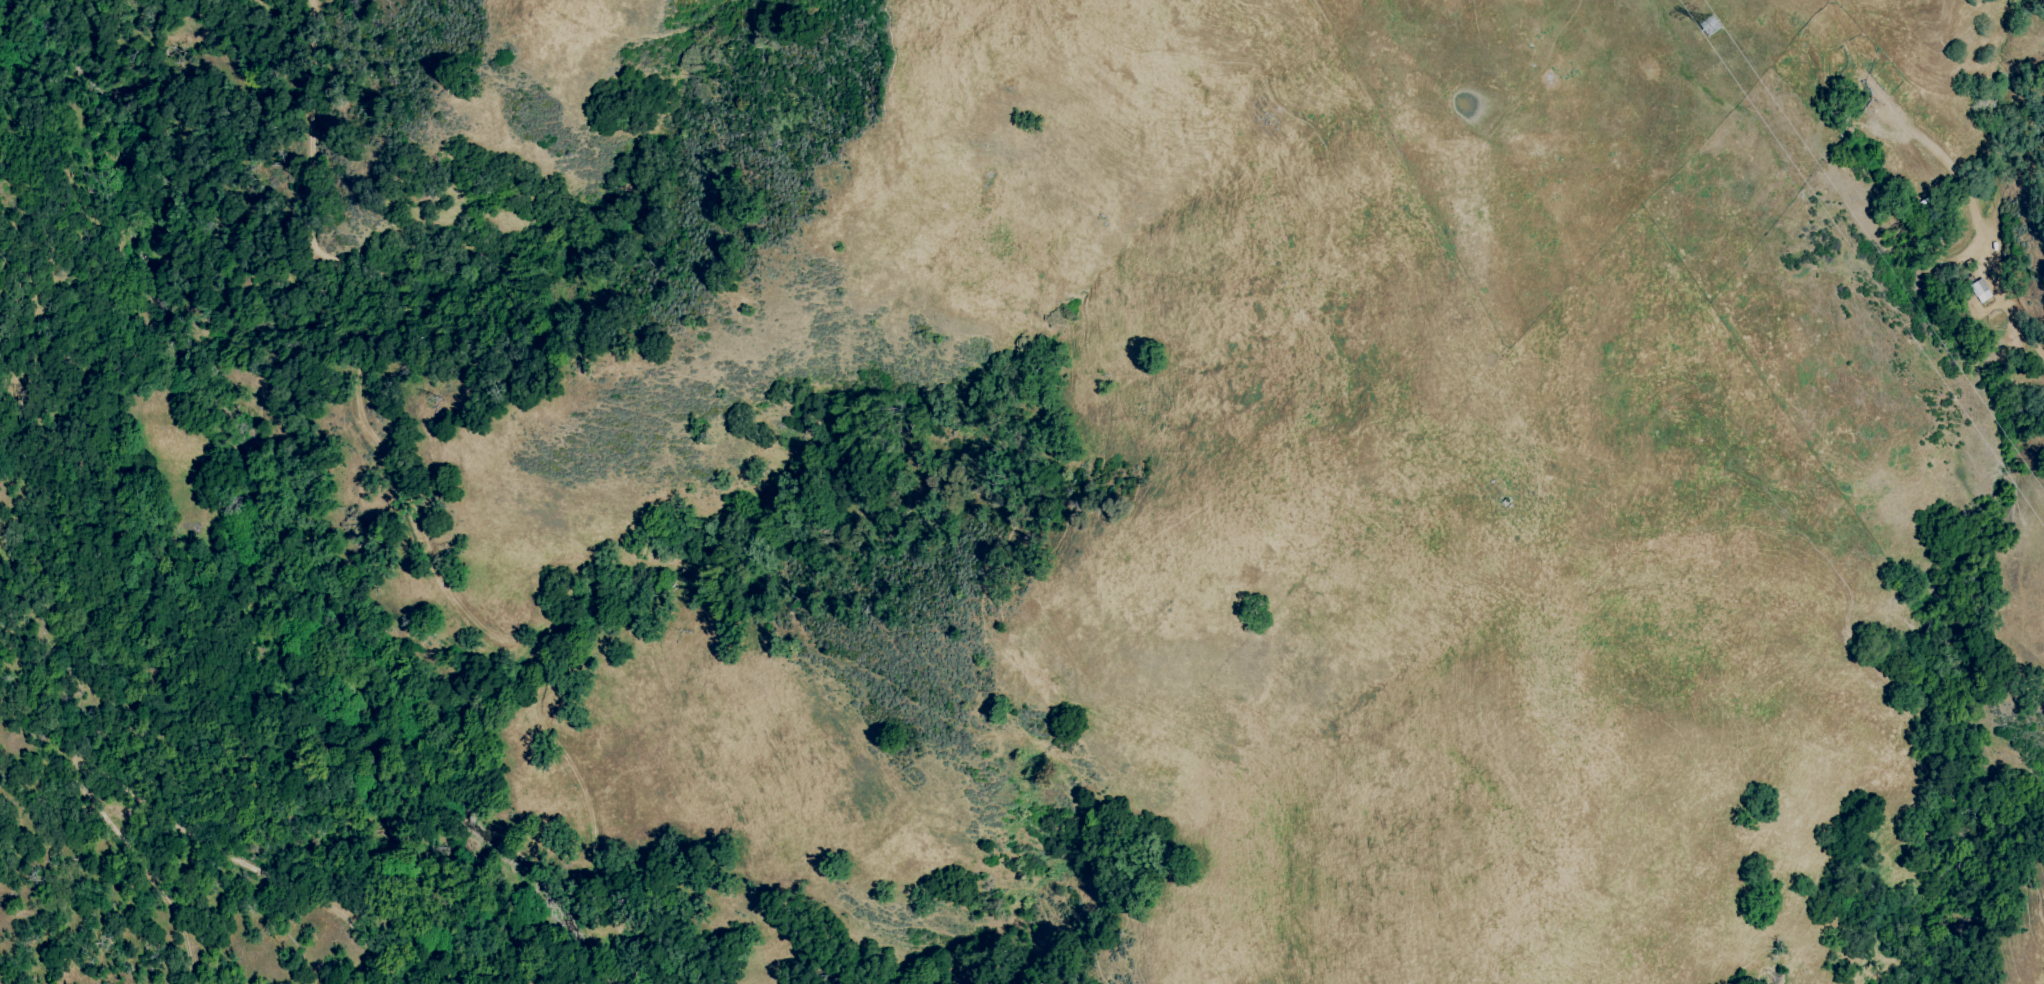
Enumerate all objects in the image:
power tower: (1722, 22)

